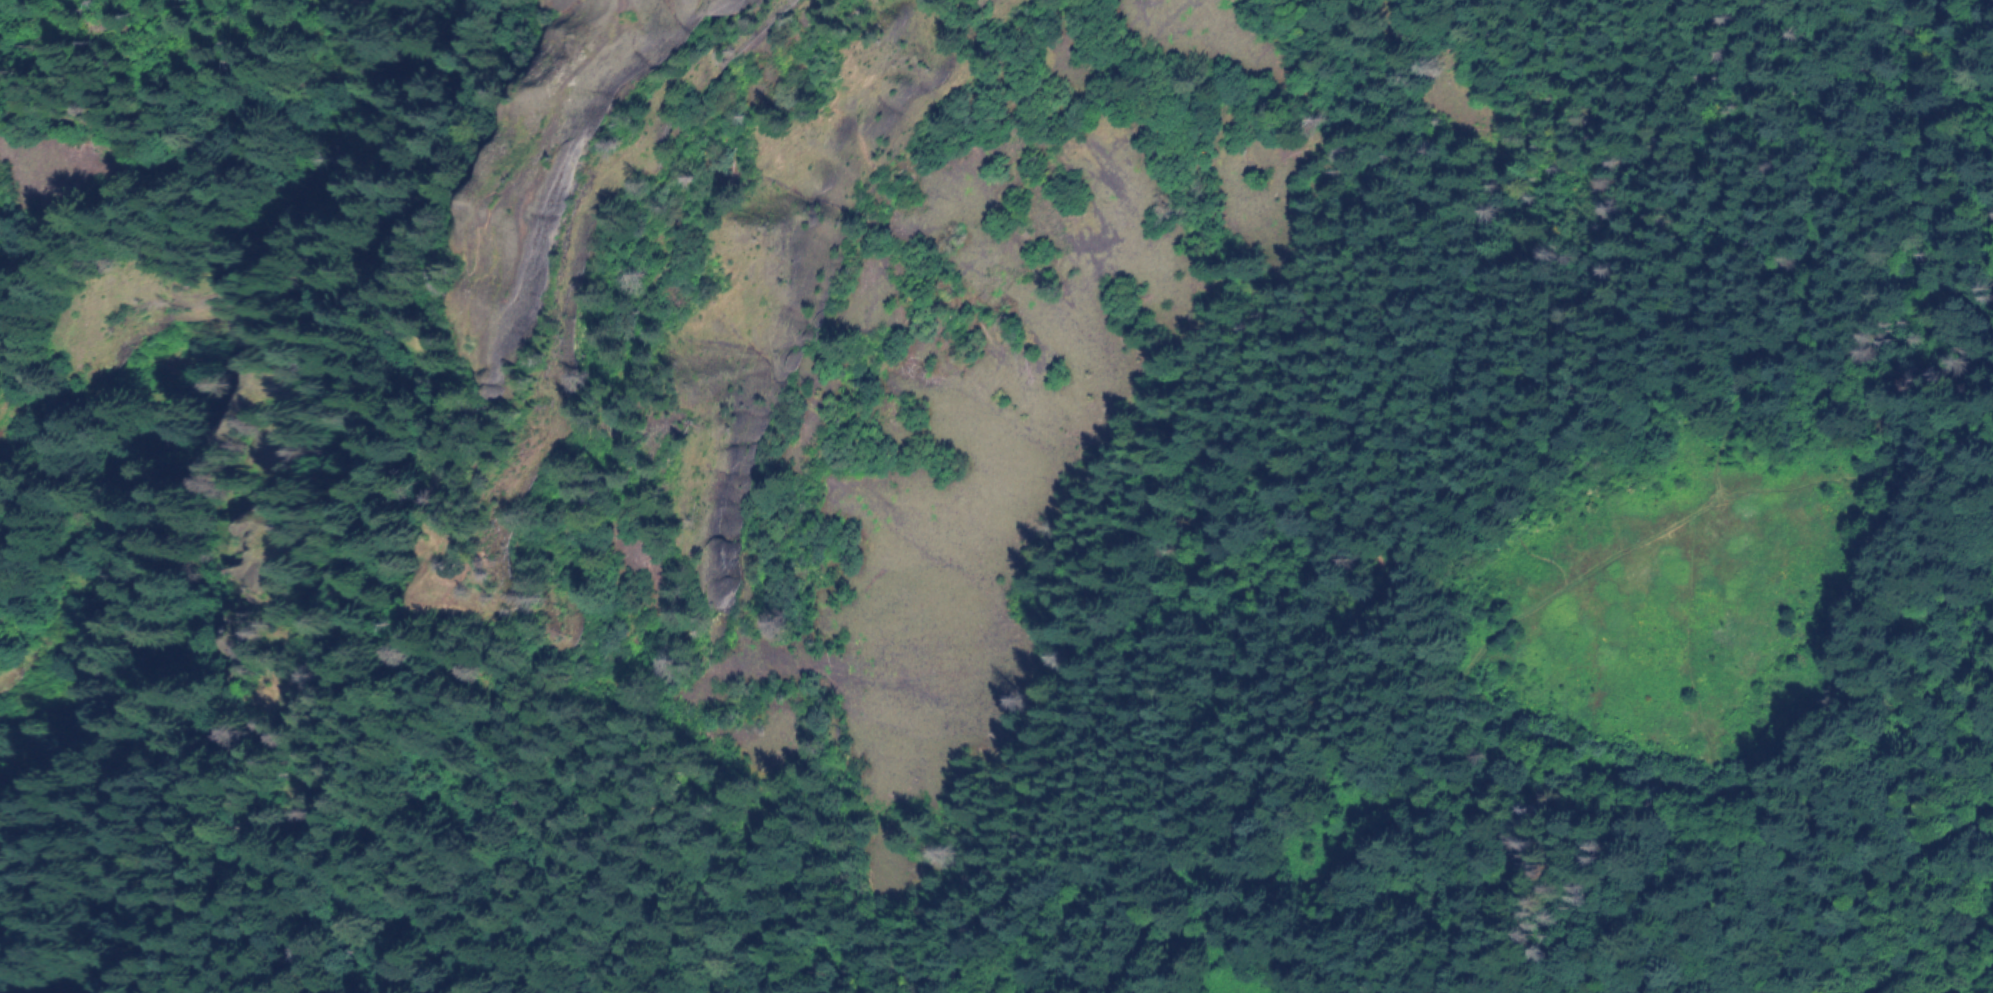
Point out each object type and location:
road: (1813, 240)
road: (498, 402)
road: (1942, 437)
road: (1460, 683)
road: (695, 723)
road: (1716, 779)
road: (1135, 893)
road: (1172, 915)
road: (1759, 918)

